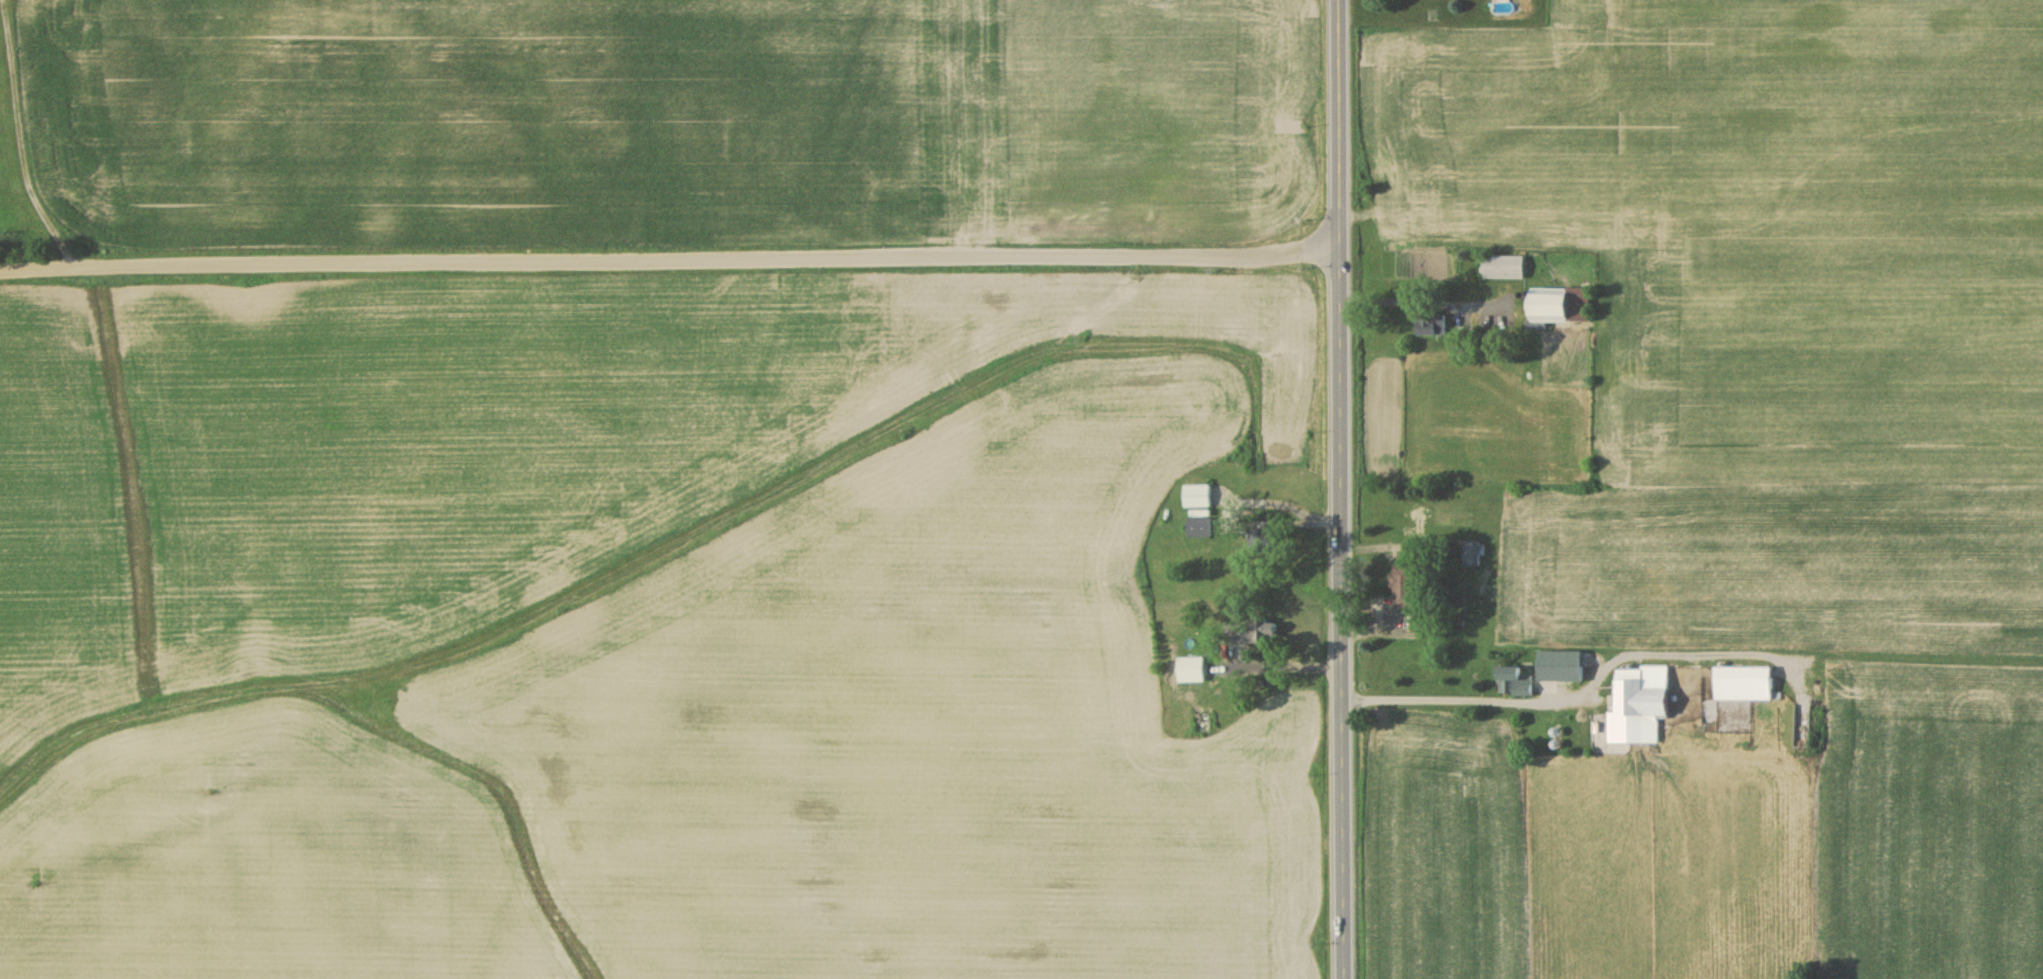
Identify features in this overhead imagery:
road: (669, 262)
building: (1501, 266)
building: (1558, 303)
building: (1429, 325)
road: (1341, 489)
building: (1195, 495)
building: (1197, 526)
building: (1263, 539)
building: (1471, 552)
building: (1402, 585)
building: (1250, 631)
building: (1559, 665)
building: (1512, 681)
building: (1742, 682)
road: (1574, 696)
building: (1645, 703)
building: (1200, 721)

